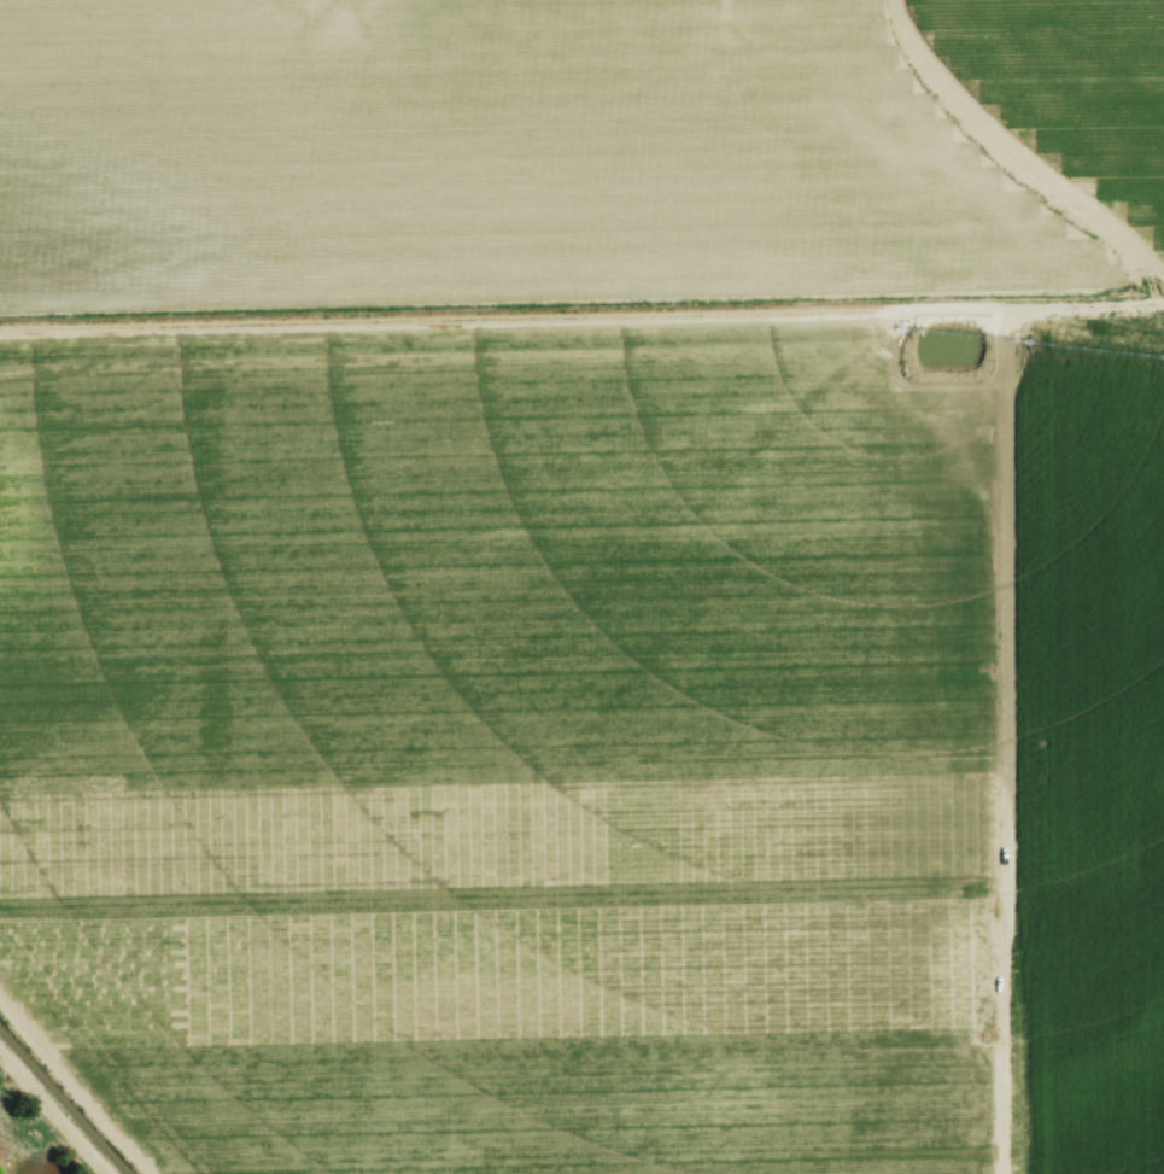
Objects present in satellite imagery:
road: (77, 1084)
road: (58, 1106)
building: (0, 1157)
building: (2, 1173)

